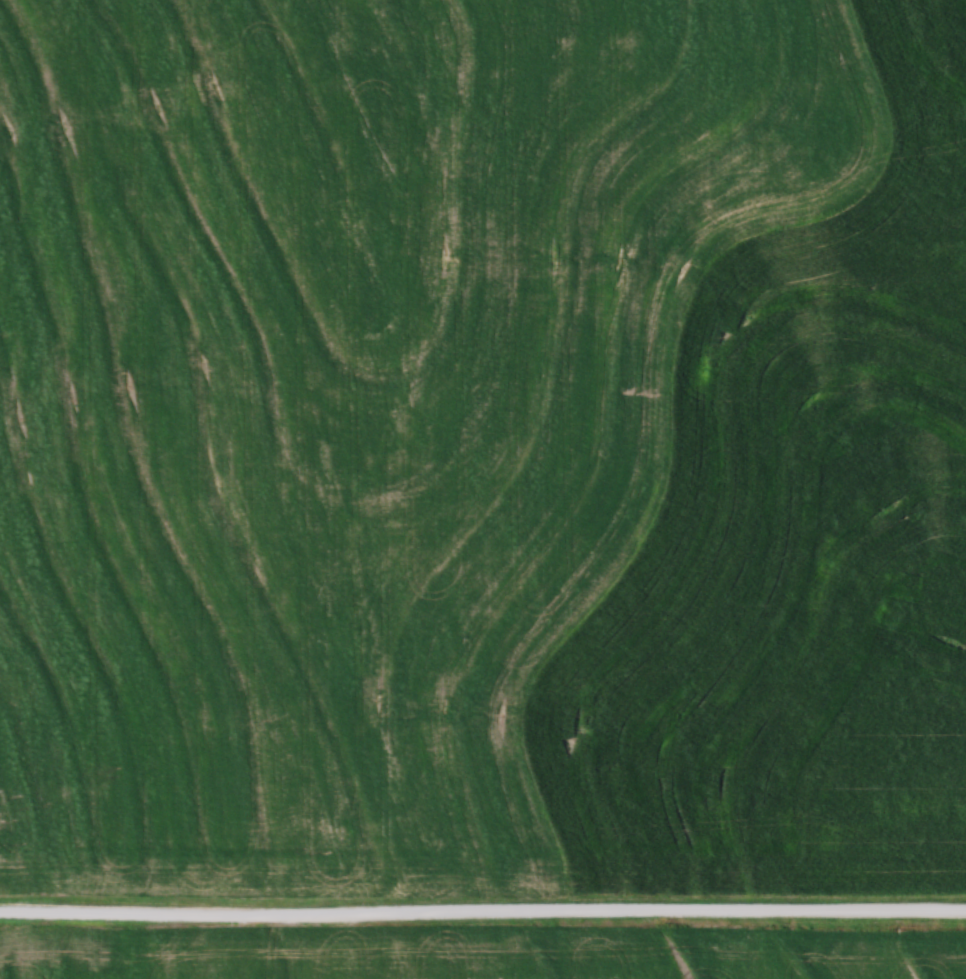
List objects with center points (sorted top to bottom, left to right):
road: (483, 916)

